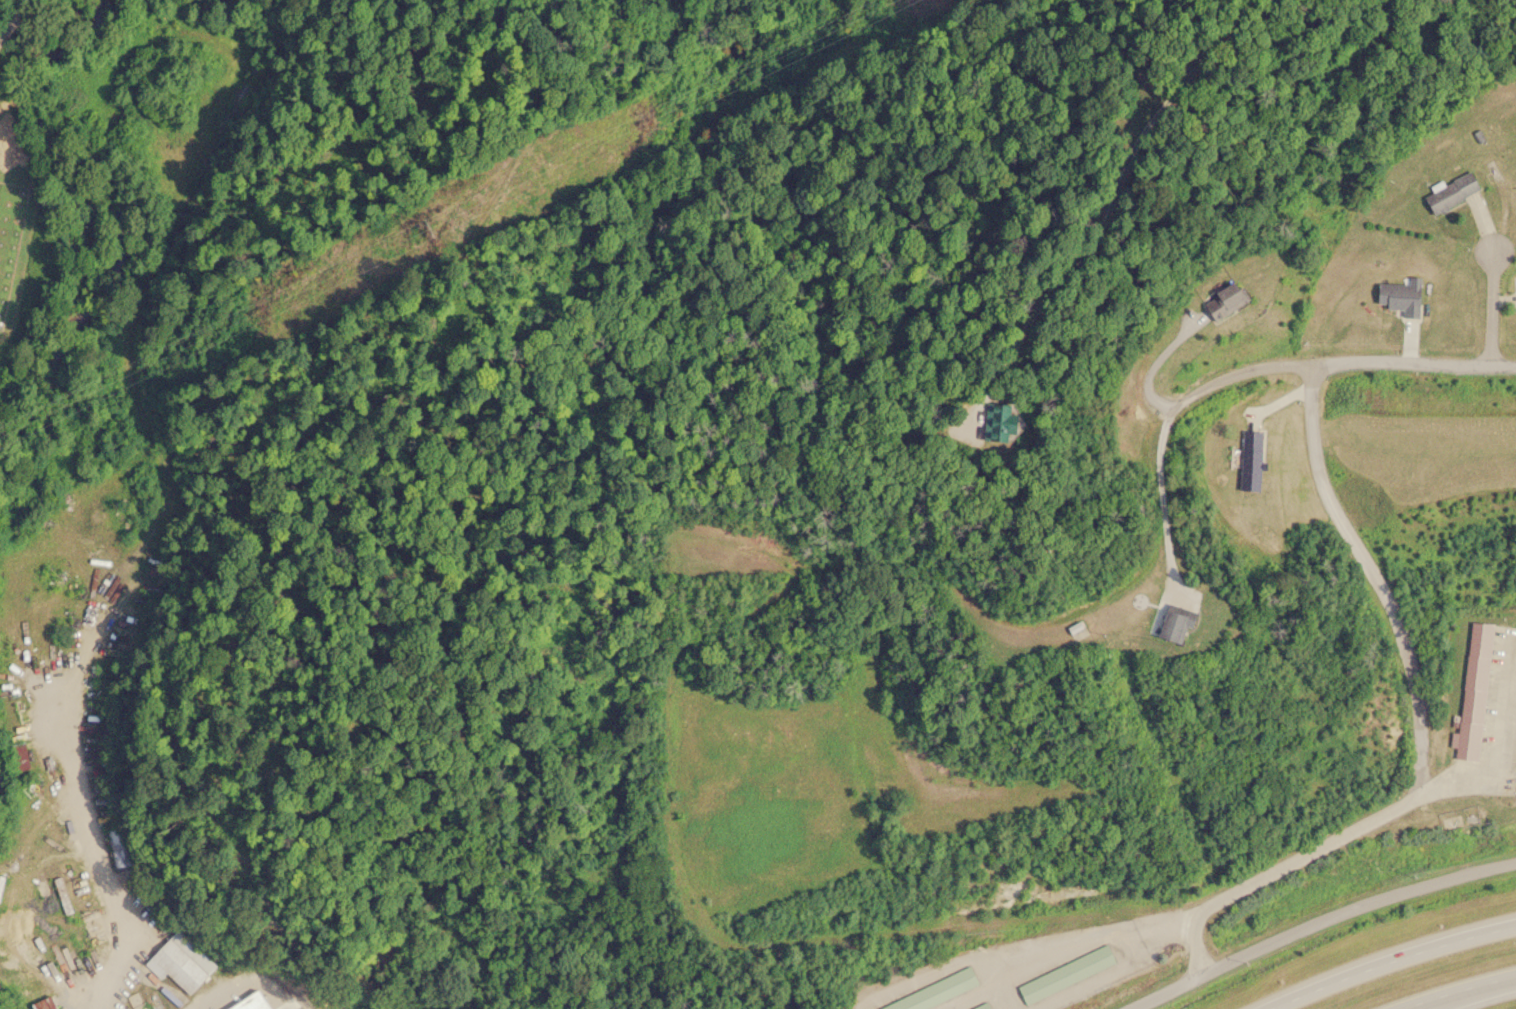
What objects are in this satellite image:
building: (1449, 192)
power tower: (433, 229)
building: (1399, 296)
building: (1221, 300)
road: (1490, 304)
road: (1412, 360)
road: (1241, 371)
building: (980, 421)
building: (1247, 460)
road: (1375, 573)
building: (1168, 624)
building: (1473, 691)
road: (1496, 742)
road: (71, 752)
building: (16, 757)
building: (1515, 793)
road: (1278, 864)
road: (1318, 919)
building: (180, 962)
road: (1396, 963)
building: (1062, 974)
road: (1468, 989)
building: (932, 992)
building: (253, 1002)
building: (42, 1003)
building: (982, 1007)

